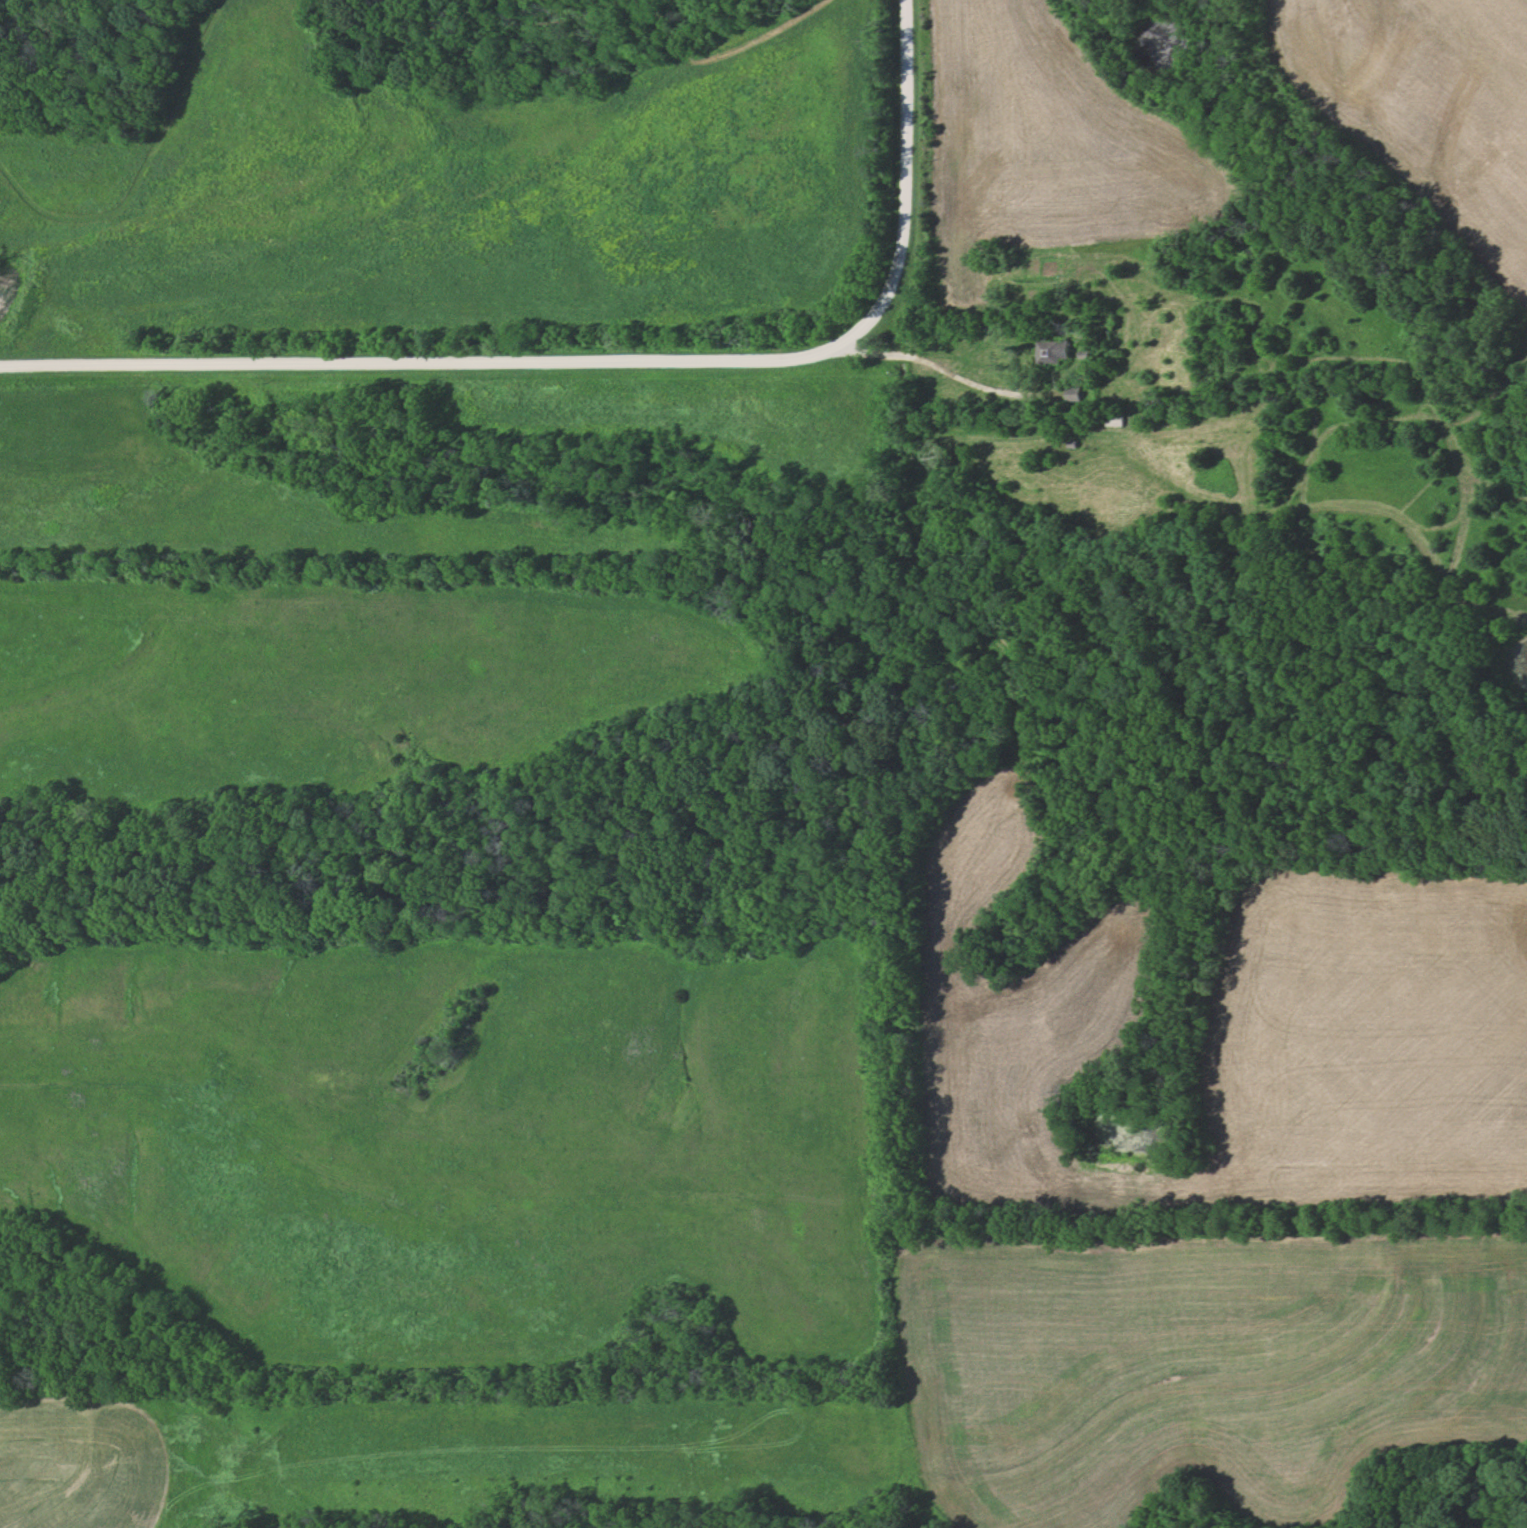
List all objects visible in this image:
road: (926, 352)
building: (1051, 352)
road: (604, 358)

